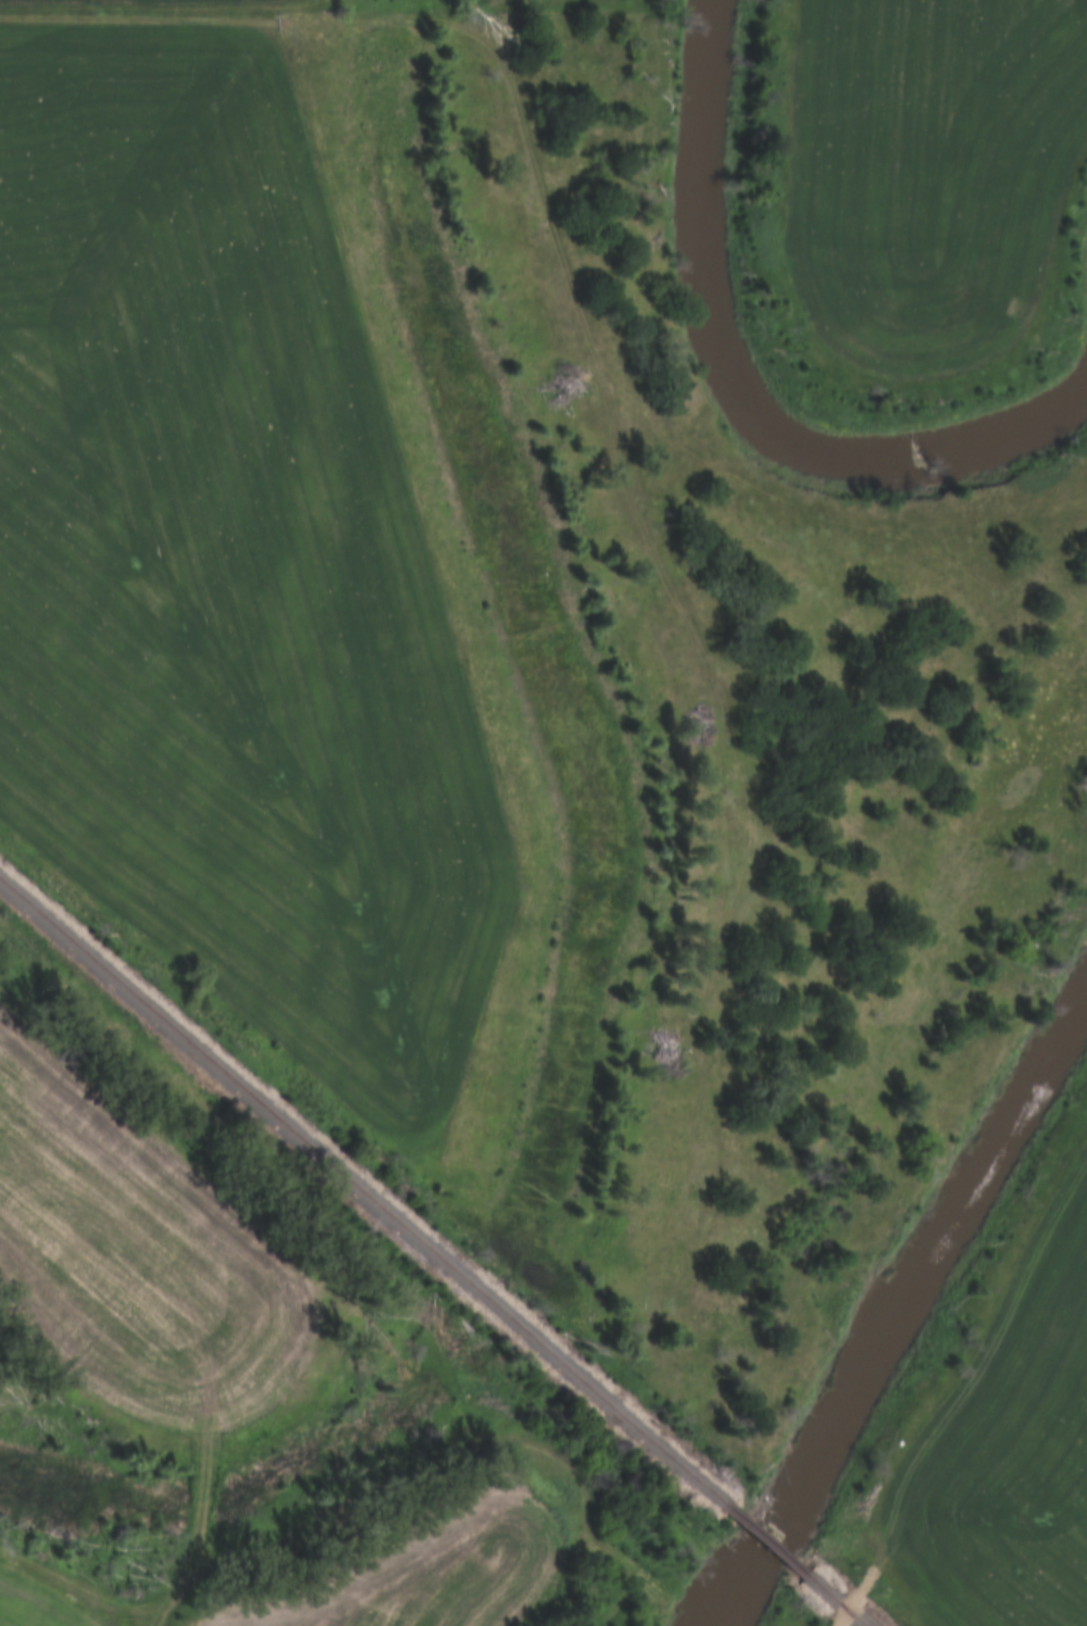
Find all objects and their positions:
road: (137, 13)
river: (739, 388)
railway: (360, 1193)
river: (904, 1316)
road: (948, 1422)
railway: (763, 1541)
railway: (835, 1601)

